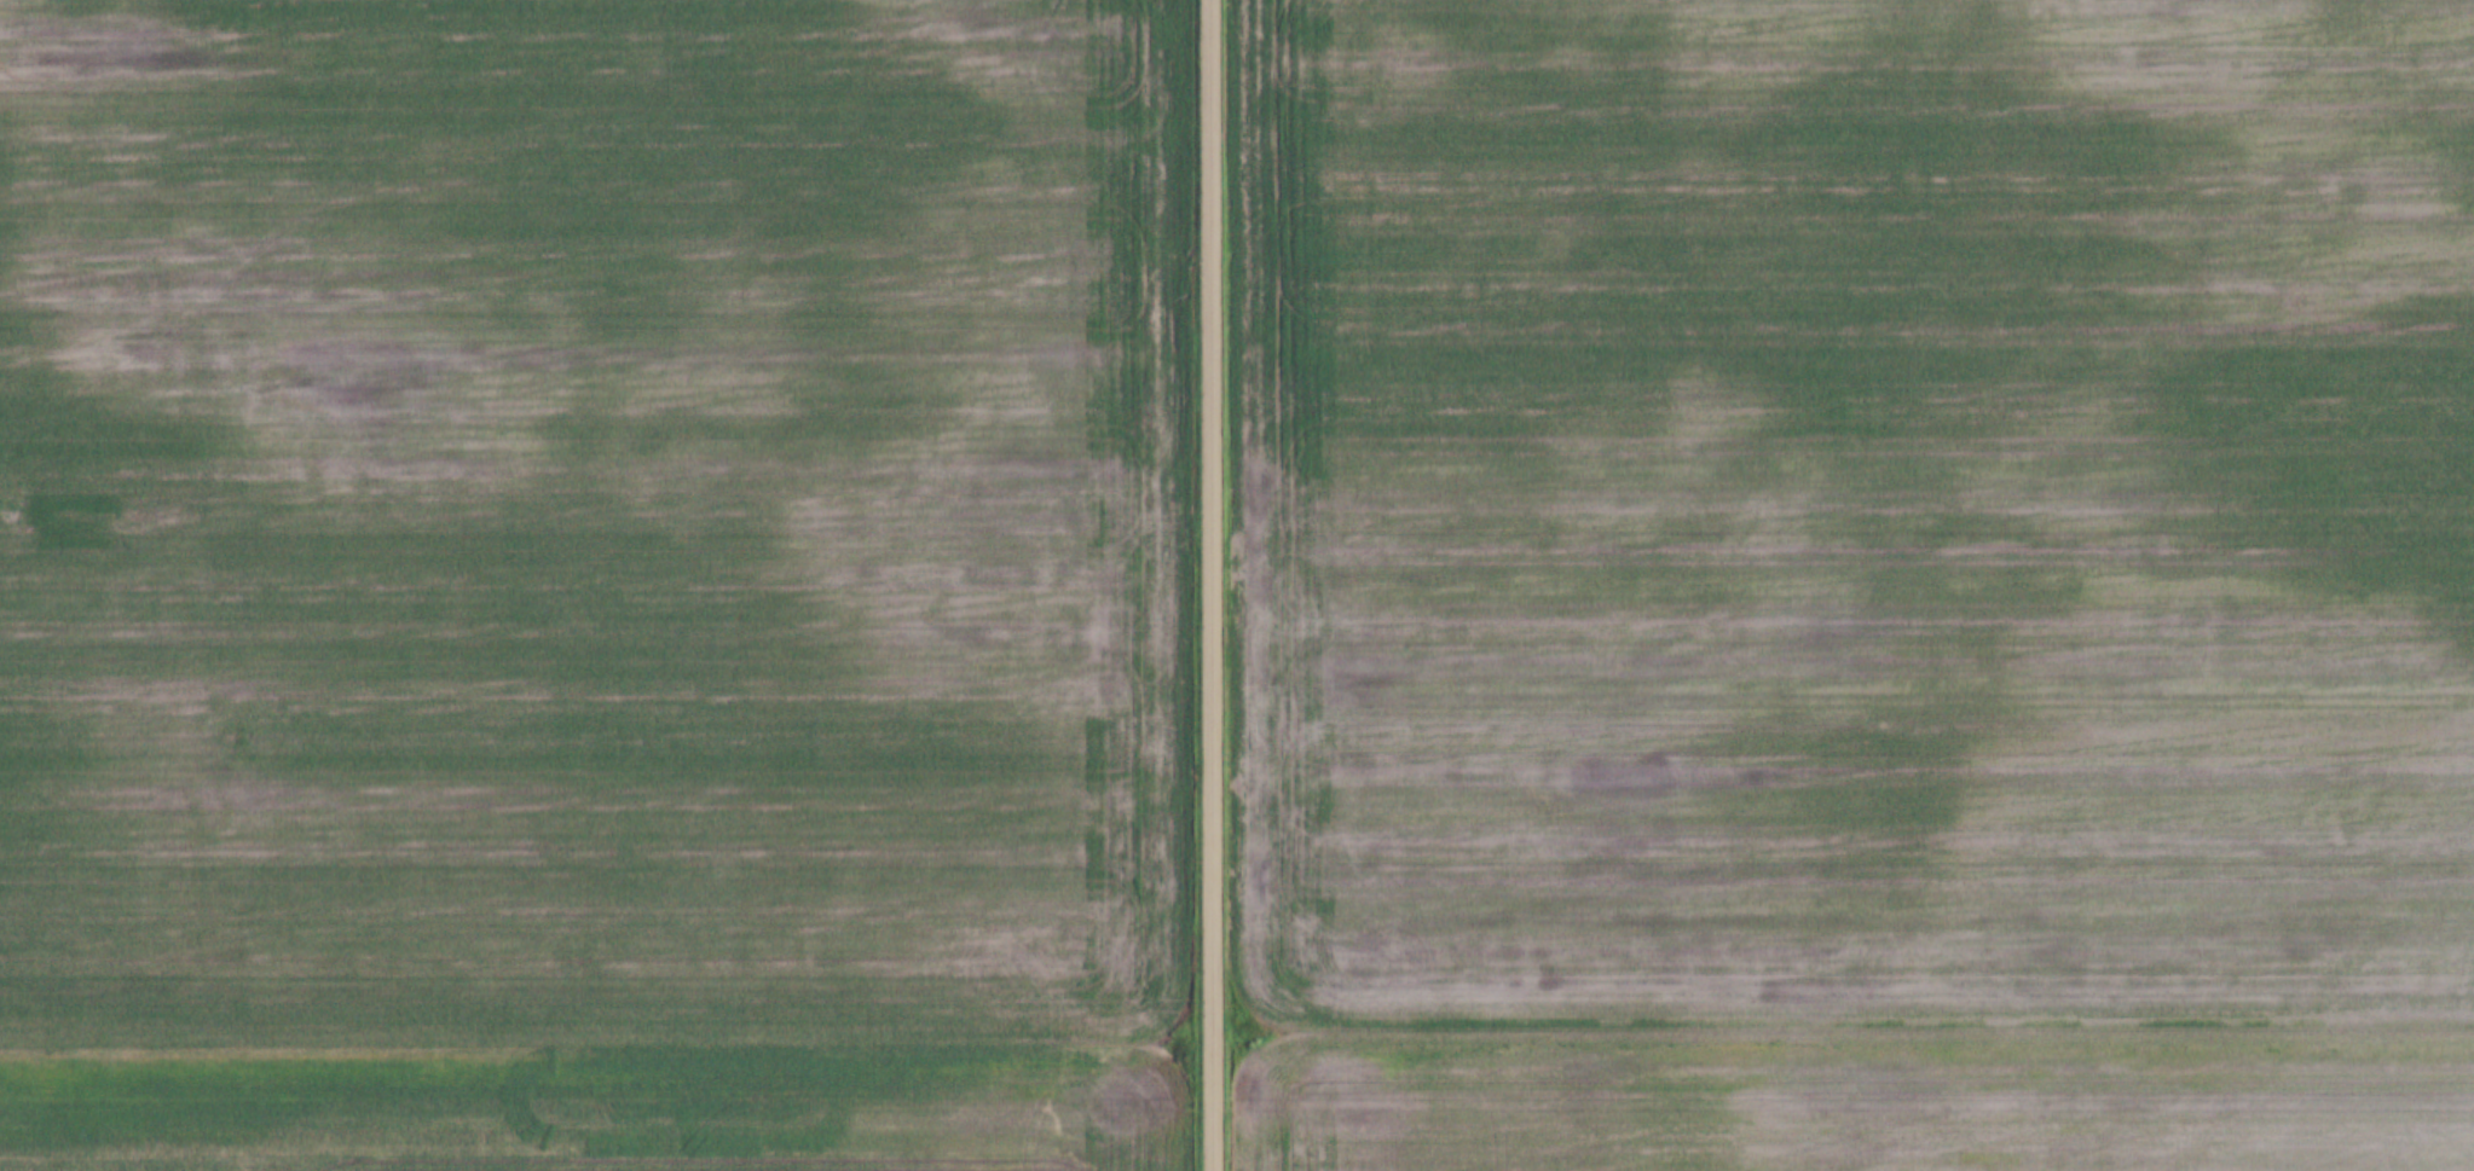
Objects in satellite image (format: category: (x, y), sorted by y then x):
road: (1210, 585)

